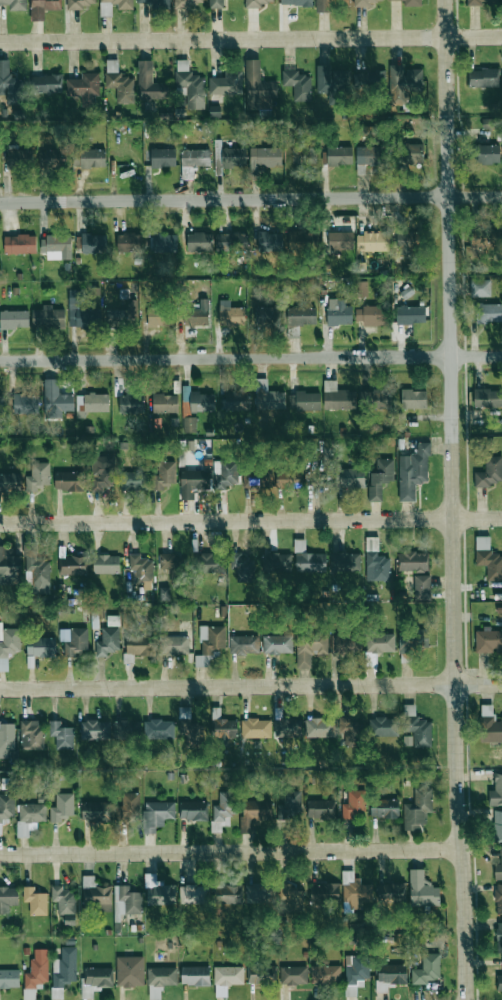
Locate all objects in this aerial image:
building: (152, 2)
building: (258, 2)
building: (295, 2)
building: (366, 2)
building: (481, 2)
building: (81, 3)
building: (215, 3)
building: (412, 3)
building: (15, 4)
building: (326, 4)
building: (113, 6)
building: (42, 8)
road: (250, 37)
building: (482, 77)
building: (368, 79)
building: (147, 81)
building: (331, 81)
building: (119, 82)
building: (46, 83)
building: (226, 83)
building: (404, 83)
building: (297, 84)
building: (189, 86)
building: (84, 87)
building: (257, 87)
building: (491, 122)
building: (411, 153)
building: (486, 154)
building: (339, 155)
building: (368, 155)
building: (230, 156)
building: (17, 157)
building: (89, 157)
building: (162, 157)
building: (194, 157)
building: (53, 158)
building: (265, 158)
road: (250, 197)
building: (303, 237)
building: (484, 237)
building: (128, 241)
building: (197, 241)
building: (230, 241)
building: (269, 241)
building: (340, 241)
building: (371, 241)
building: (407, 241)
building: (93, 243)
building: (164, 243)
building: (19, 244)
building: (56, 247)
building: (480, 287)
building: (360, 288)
building: (81, 311)
building: (338, 312)
building: (488, 312)
building: (198, 313)
building: (121, 314)
building: (230, 314)
building: (410, 314)
building: (371, 315)
building: (157, 316)
building: (267, 316)
building: (301, 316)
building: (47, 317)
building: (14, 319)
road: (452, 343)
road: (250, 356)
building: (268, 396)
building: (337, 396)
building: (487, 397)
building: (413, 398)
building: (55, 399)
building: (375, 399)
building: (234, 400)
building: (201, 401)
building: (304, 401)
building: (95, 402)
building: (164, 402)
building: (1, 403)
building: (25, 403)
building: (131, 404)
building: (189, 424)
building: (412, 471)
building: (489, 471)
building: (101, 472)
building: (164, 474)
building: (225, 474)
building: (38, 476)
building: (287, 477)
building: (349, 477)
building: (380, 478)
building: (69, 480)
building: (133, 480)
building: (257, 480)
building: (10, 482)
building: (192, 482)
road: (251, 523)
building: (488, 558)
building: (308, 559)
building: (375, 561)
building: (413, 561)
building: (278, 562)
building: (344, 562)
building: (208, 563)
building: (106, 564)
building: (172, 564)
building: (6, 565)
building: (73, 565)
building: (242, 565)
building: (141, 570)
building: (36, 572)
building: (421, 587)
building: (73, 640)
building: (488, 640)
building: (107, 641)
building: (414, 641)
building: (379, 642)
building: (209, 644)
building: (244, 644)
building: (277, 644)
building: (344, 644)
building: (8, 645)
building: (173, 645)
building: (138, 646)
building: (310, 646)
building: (40, 647)
road: (479, 686)
road: (228, 689)
building: (222, 724)
building: (489, 725)
building: (383, 726)
building: (287, 727)
building: (319, 727)
building: (255, 728)
building: (415, 728)
building: (126, 729)
building: (158, 729)
building: (189, 729)
building: (94, 730)
building: (348, 730)
building: (31, 734)
building: (61, 735)
building: (6, 738)
building: (496, 790)
building: (354, 804)
building: (289, 805)
building: (6, 806)
building: (128, 806)
building: (61, 807)
building: (321, 808)
building: (384, 808)
building: (417, 808)
building: (193, 810)
building: (222, 811)
building: (95, 812)
building: (253, 813)
building: (156, 814)
building: (29, 817)
building: (497, 825)
road: (463, 843)
road: (232, 854)
building: (498, 866)
building: (421, 889)
building: (159, 891)
building: (355, 891)
building: (258, 893)
building: (324, 893)
building: (391, 893)
building: (193, 894)
building: (227, 894)
building: (96, 896)
building: (7, 897)
building: (498, 898)
building: (63, 899)
building: (291, 899)
building: (126, 900)
building: (35, 901)
building: (499, 937)
building: (64, 969)
building: (426, 969)
building: (130, 971)
building: (36, 972)
building: (355, 972)
building: (262, 973)
building: (293, 974)
building: (325, 974)
building: (195, 975)
building: (389, 975)
building: (98, 976)
building: (162, 976)
building: (9, 978)
building: (226, 978)
building: (499, 982)
building: (154, 992)

